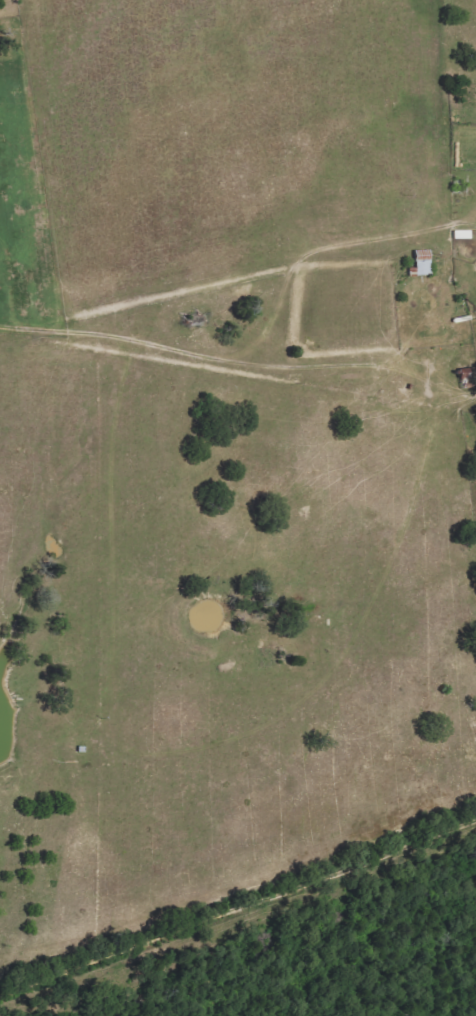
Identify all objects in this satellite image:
building: (464, 234)
building: (425, 262)
road: (271, 946)

